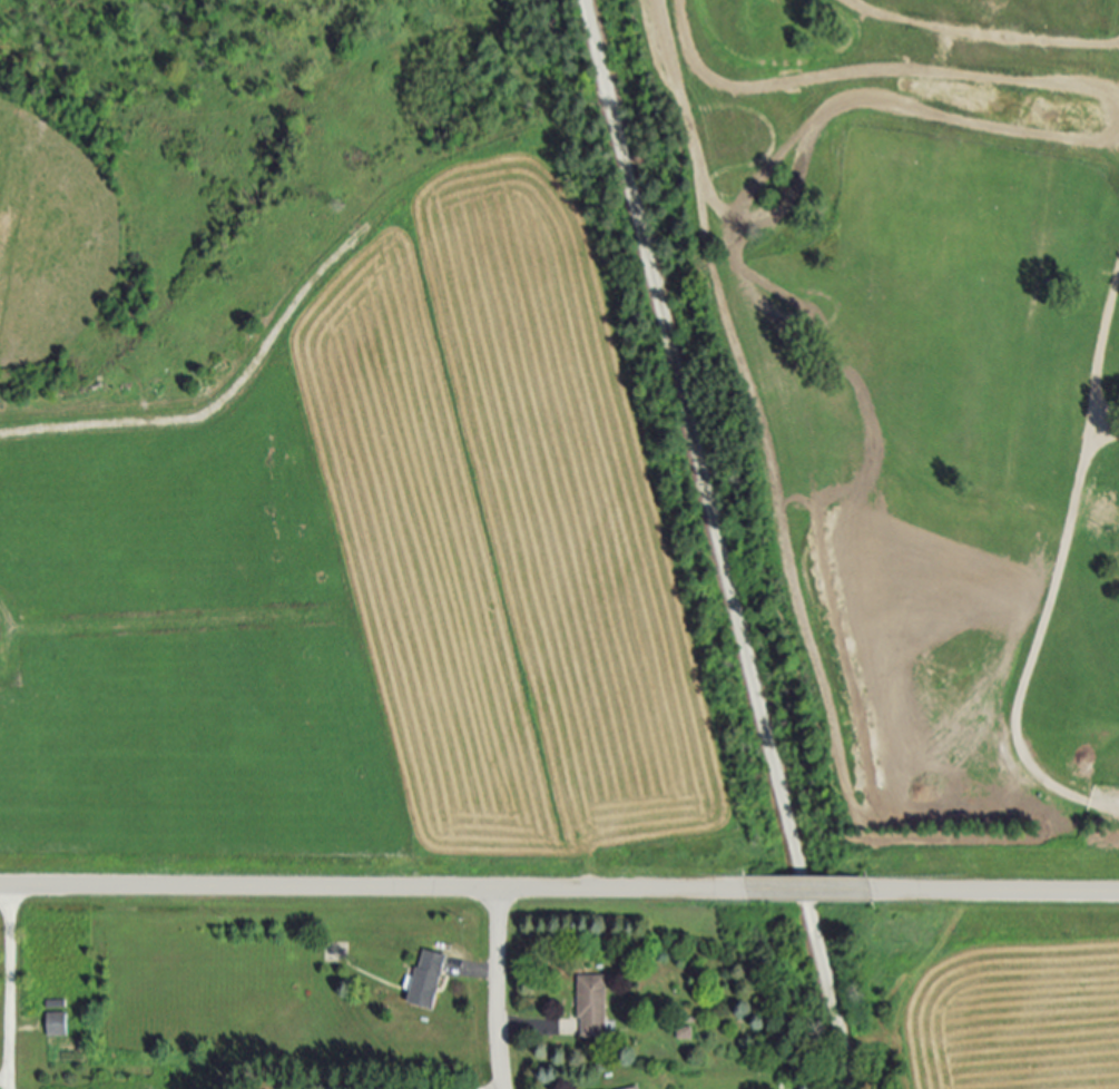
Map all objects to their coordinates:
road: (717, 544)
road: (1033, 654)
road: (362, 887)
road: (816, 891)
road: (1013, 892)
building: (430, 978)
road: (7, 988)
road: (495, 989)
building: (593, 1004)
building: (58, 1023)
road: (523, 1031)
building: (686, 1032)
road: (3, 1079)
building: (636, 1087)

